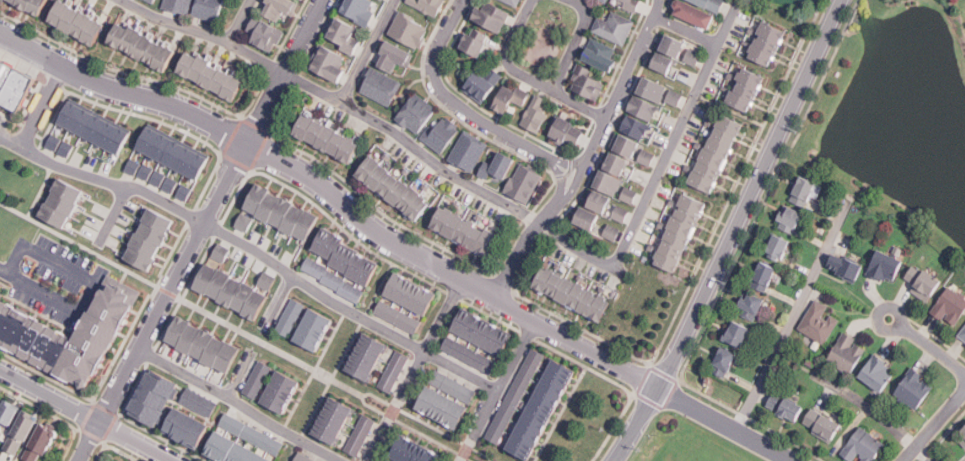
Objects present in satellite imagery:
building: (152, 0)
building: (144, 1)
building: (604, 1)
building: (513, 2)
building: (628, 4)
building: (32, 5)
building: (178, 5)
building: (429, 6)
building: (279, 8)
building: (209, 9)
building: (360, 9)
building: (700, 11)
building: (492, 16)
building: (78, 22)
road: (238, 22)
building: (614, 28)
road: (685, 28)
building: (409, 30)
building: (345, 33)
building: (265, 34)
road: (574, 39)
building: (474, 43)
building: (768, 43)
building: (677, 44)
building: (144, 46)
building: (665, 46)
road: (367, 51)
road: (504, 54)
building: (602, 55)
building: (395, 56)
building: (693, 56)
building: (667, 62)
building: (330, 63)
building: (654, 63)
building: (213, 76)
building: (13, 81)
building: (586, 82)
building: (483, 84)
building: (381, 86)
road: (617, 88)
building: (656, 88)
building: (747, 89)
building: (510, 97)
building: (669, 97)
building: (676, 97)
road: (335, 100)
road: (578, 102)
building: (646, 107)
road: (463, 108)
building: (417, 112)
building: (536, 115)
building: (637, 125)
building: (95, 126)
building: (568, 131)
building: (442, 132)
building: (329, 138)
road: (10, 139)
building: (56, 144)
building: (630, 144)
building: (468, 151)
building: (175, 152)
building: (718, 153)
building: (648, 157)
building: (620, 163)
building: (128, 164)
building: (499, 167)
road: (68, 168)
road: (657, 174)
building: (154, 177)
building: (611, 181)
building: (525, 183)
building: (394, 188)
building: (180, 190)
building: (804, 191)
building: (631, 195)
building: (603, 201)
building: (590, 202)
building: (63, 203)
road: (210, 210)
building: (283, 212)
road: (113, 214)
building: (620, 214)
building: (590, 217)
building: (577, 219)
building: (790, 219)
building: (238, 220)
building: (246, 222)
building: (465, 230)
road: (527, 232)
building: (613, 232)
road: (728, 232)
building: (681, 233)
building: (150, 239)
road: (395, 243)
building: (778, 248)
building: (221, 251)
building: (347, 256)
building: (886, 266)
building: (846, 267)
road: (4, 271)
building: (764, 277)
building: (269, 280)
building: (335, 280)
road: (89, 282)
building: (924, 282)
building: (2, 286)
building: (234, 292)
building: (411, 293)
building: (576, 294)
road: (278, 303)
building: (751, 306)
building: (950, 306)
road: (347, 310)
road: (793, 315)
building: (290, 317)
building: (399, 317)
building: (820, 322)
building: (314, 330)
building: (478, 331)
road: (246, 332)
building: (963, 333)
building: (738, 334)
building: (71, 337)
road: (927, 344)
building: (204, 345)
building: (848, 353)
building: (466, 354)
building: (367, 357)
building: (716, 360)
building: (725, 362)
road: (412, 370)
building: (394, 372)
building: (878, 373)
road: (239, 375)
building: (258, 379)
building: (451, 386)
building: (915, 389)
road: (496, 390)
building: (281, 391)
building: (512, 396)
building: (0, 398)
building: (154, 398)
building: (199, 402)
road: (237, 405)
building: (786, 406)
building: (438, 407)
building: (537, 409)
road: (877, 412)
road: (86, 415)
building: (7, 418)
building: (334, 421)
building: (823, 425)
building: (189, 427)
road: (935, 428)
road: (416, 429)
building: (22, 432)
building: (963, 432)
building: (252, 434)
building: (360, 435)
road: (87, 441)
building: (41, 444)
building: (864, 446)
building: (234, 450)
building: (416, 450)
building: (304, 457)
building: (106, 460)
building: (383, 460)
building: (392, 460)

